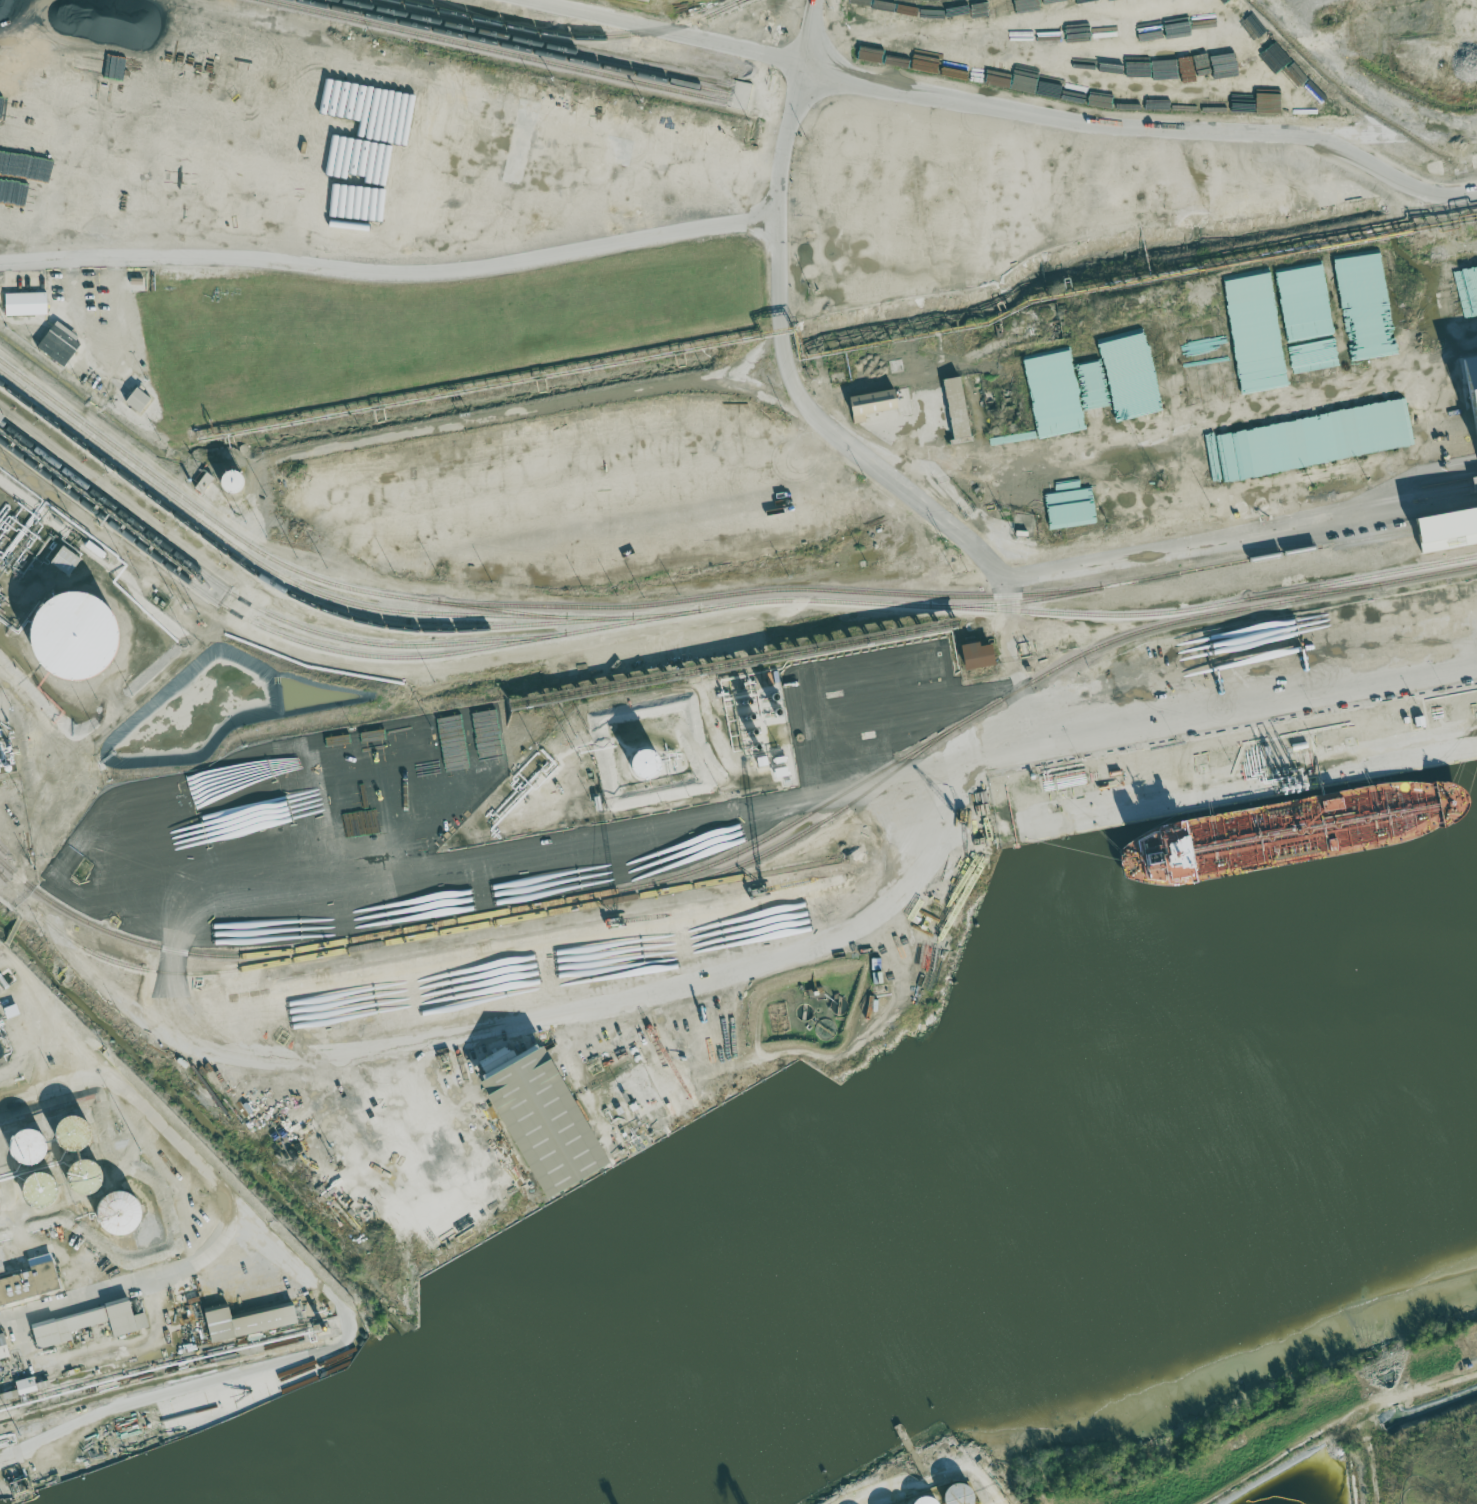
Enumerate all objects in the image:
building: (640, 1)
railway: (741, 1)
railway: (464, 12)
road: (662, 31)
road: (807, 32)
railway: (570, 36)
railway: (535, 43)
railway: (514, 47)
railway: (495, 51)
road: (287, 61)
road: (390, 273)
building: (1356, 274)
building: (26, 304)
road: (94, 328)
building: (60, 344)
road: (751, 358)
road: (914, 377)
building: (1472, 382)
building: (1092, 384)
building: (139, 400)
building: (876, 403)
road: (546, 407)
building: (959, 407)
building: (3, 417)
road: (1152, 431)
building: (1361, 431)
building: (1187, 464)
building: (235, 482)
road: (603, 483)
building: (1438, 528)
road: (1239, 546)
building: (67, 561)
railway: (255, 561)
railway: (284, 565)
railway: (1202, 568)
road: (239, 584)
railway: (283, 589)
road: (1002, 601)
railway: (255, 608)
railway: (1054, 612)
building: (77, 638)
storage tank: (77, 638)
railway: (319, 647)
building: (981, 656)
building: (920, 704)
road: (1253, 708)
building: (646, 765)
storage tank: (646, 765)
railway: (5, 853)
road: (397, 871)
railway: (419, 936)
building: (550, 1119)
building: (68, 1126)
building: (24, 1139)
building: (81, 1170)
building: (36, 1184)
building: (115, 1205)
road: (223, 1206)
building: (2, 1209)
river: (907, 1263)
building: (31, 1281)
building: (248, 1320)
building: (89, 1322)
building: (4, 1348)
road: (98, 1351)
building: (27, 1385)
building: (7, 1398)
road: (902, 1477)
road: (976, 1477)
building: (959, 1494)
building: (930, 1500)

